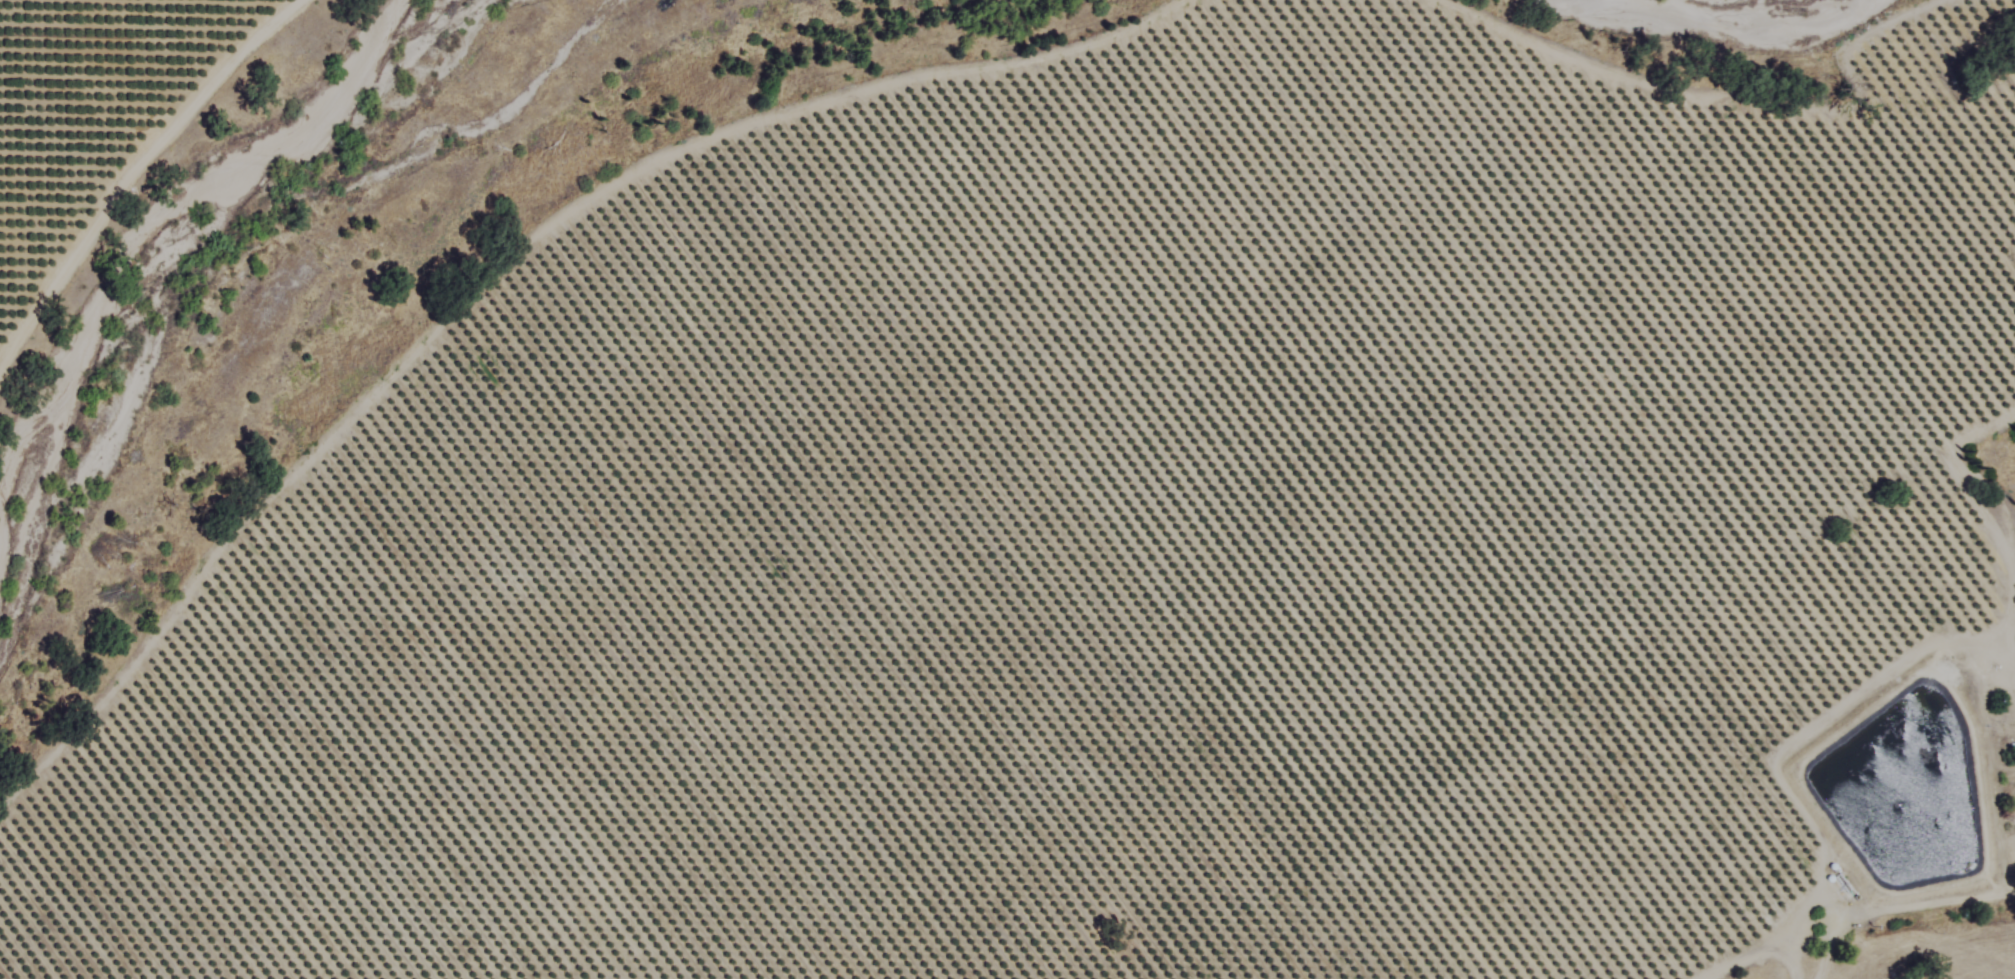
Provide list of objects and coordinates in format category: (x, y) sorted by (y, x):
crop: (96, 107)
crop: (1129, 557)

